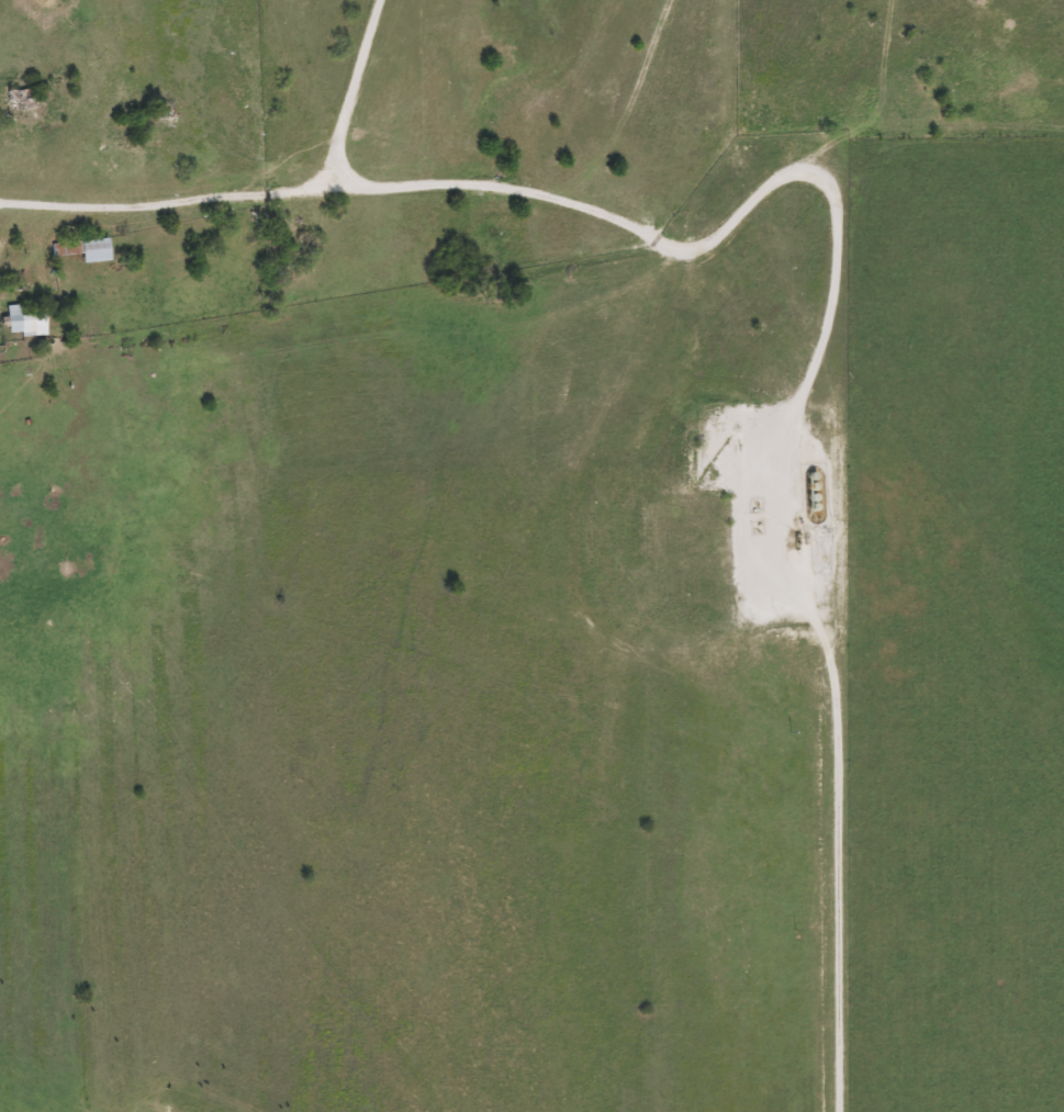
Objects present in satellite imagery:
building: (15, 100)
road: (259, 200)
road: (731, 225)
building: (91, 250)
building: (23, 323)
road: (120, 530)

